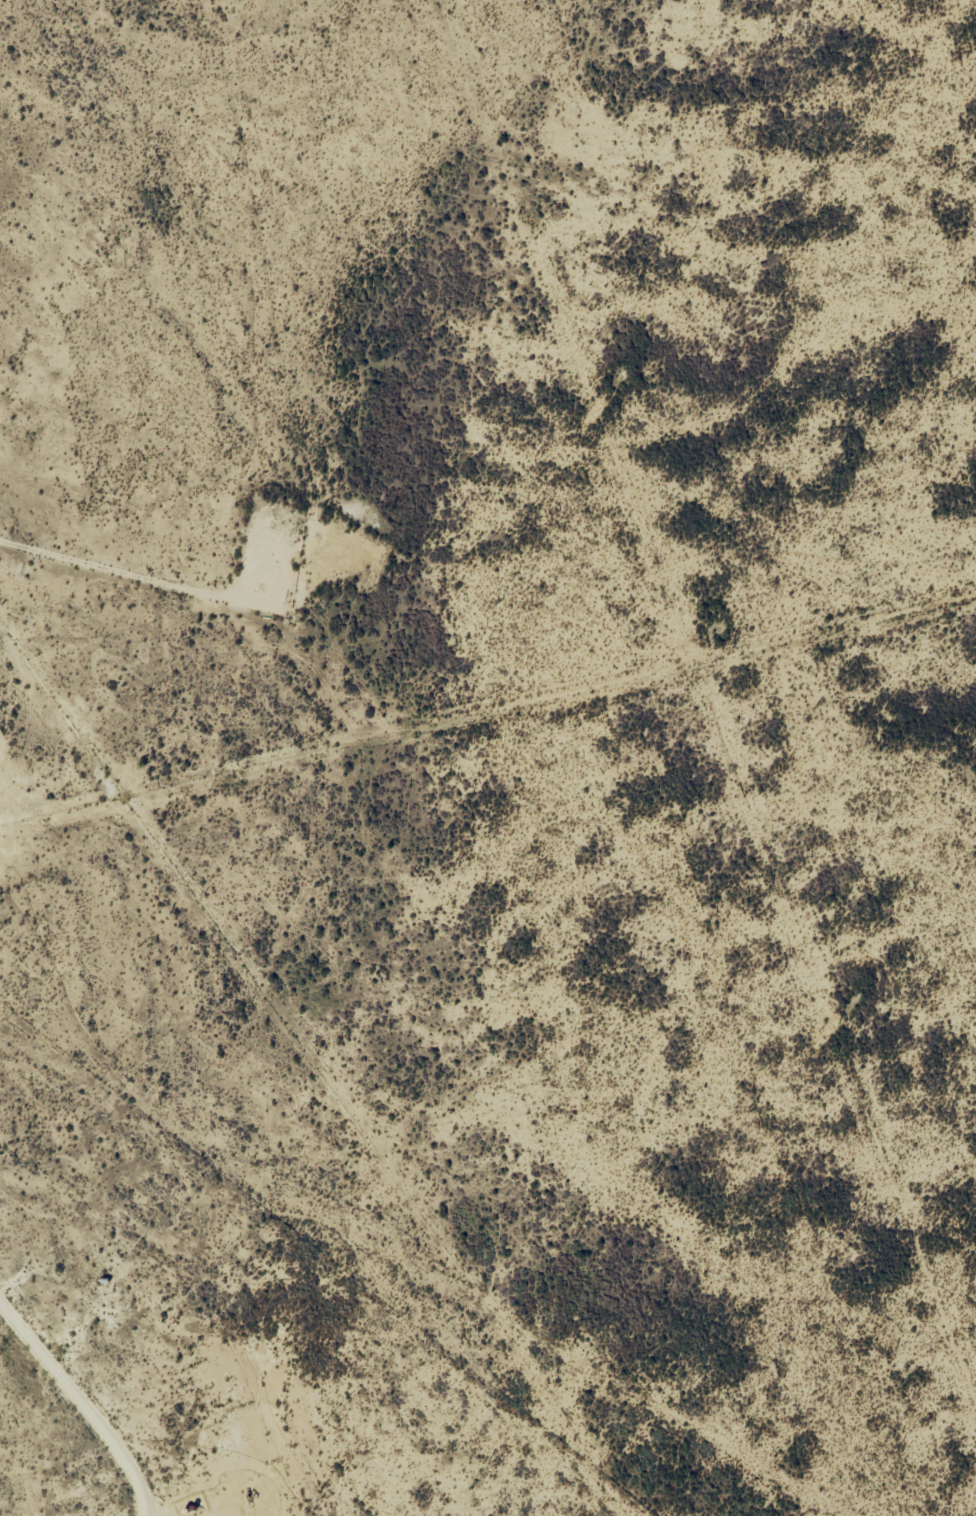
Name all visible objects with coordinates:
road: (74, 1409)

